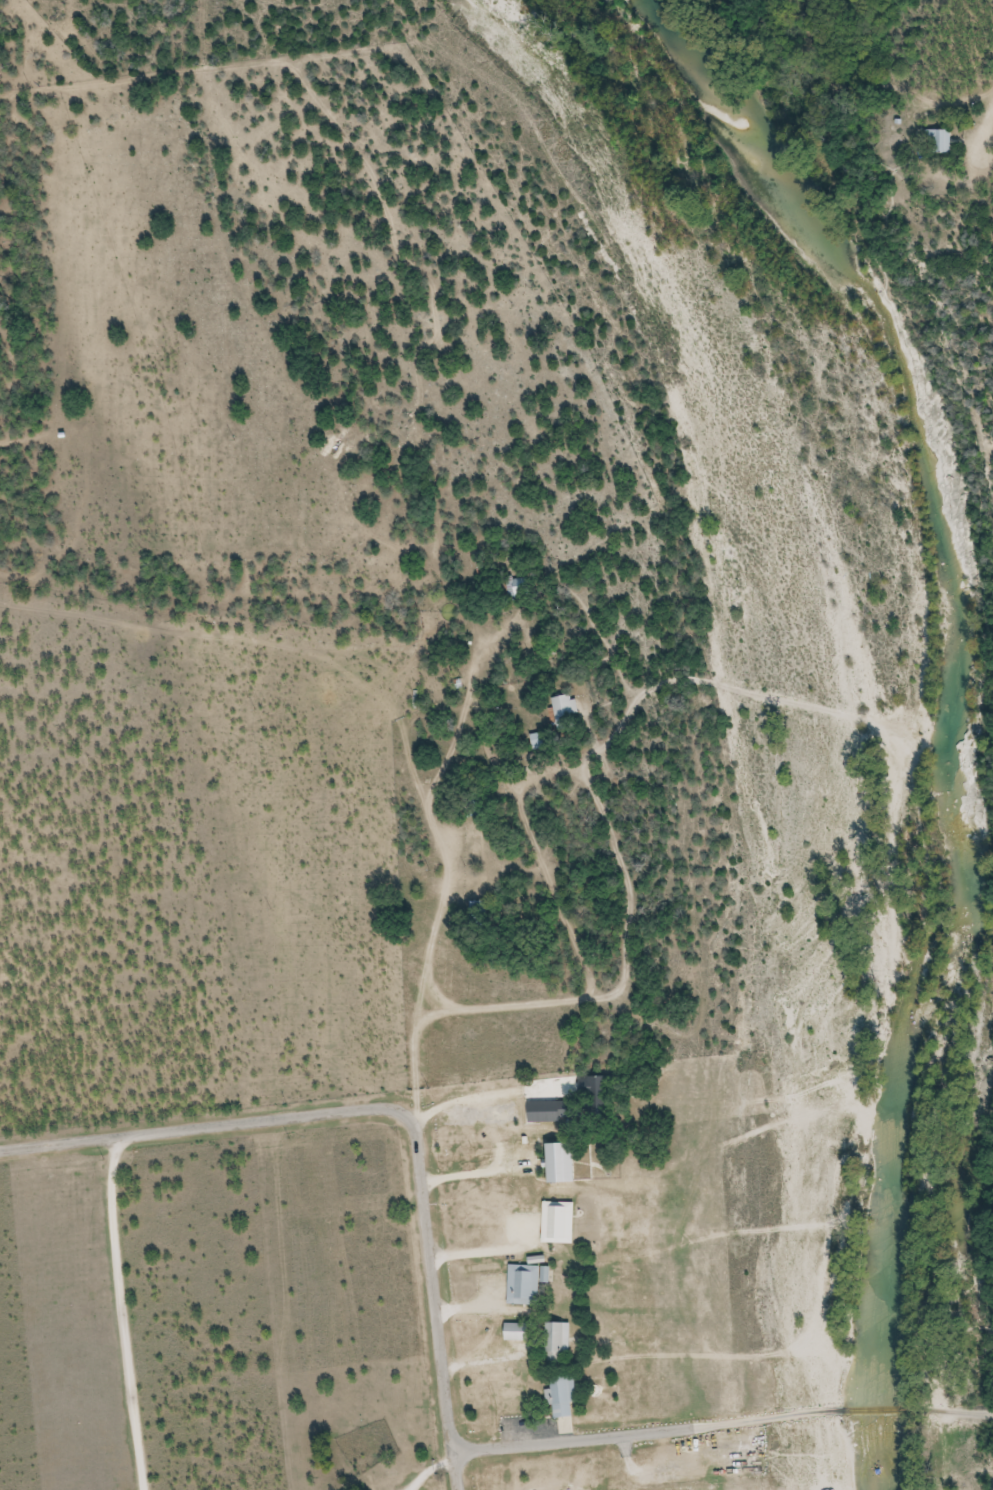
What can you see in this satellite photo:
building: (940, 142)
river: (857, 694)
building: (566, 710)
building: (541, 741)
building: (479, 909)
building: (602, 1086)
road: (373, 1110)
building: (585, 1168)
building: (559, 1222)
building: (527, 1283)
road: (122, 1313)
building: (517, 1332)
building: (558, 1341)
building: (563, 1396)
road: (815, 1413)
road: (965, 1413)
road: (574, 1442)
road: (455, 1471)

